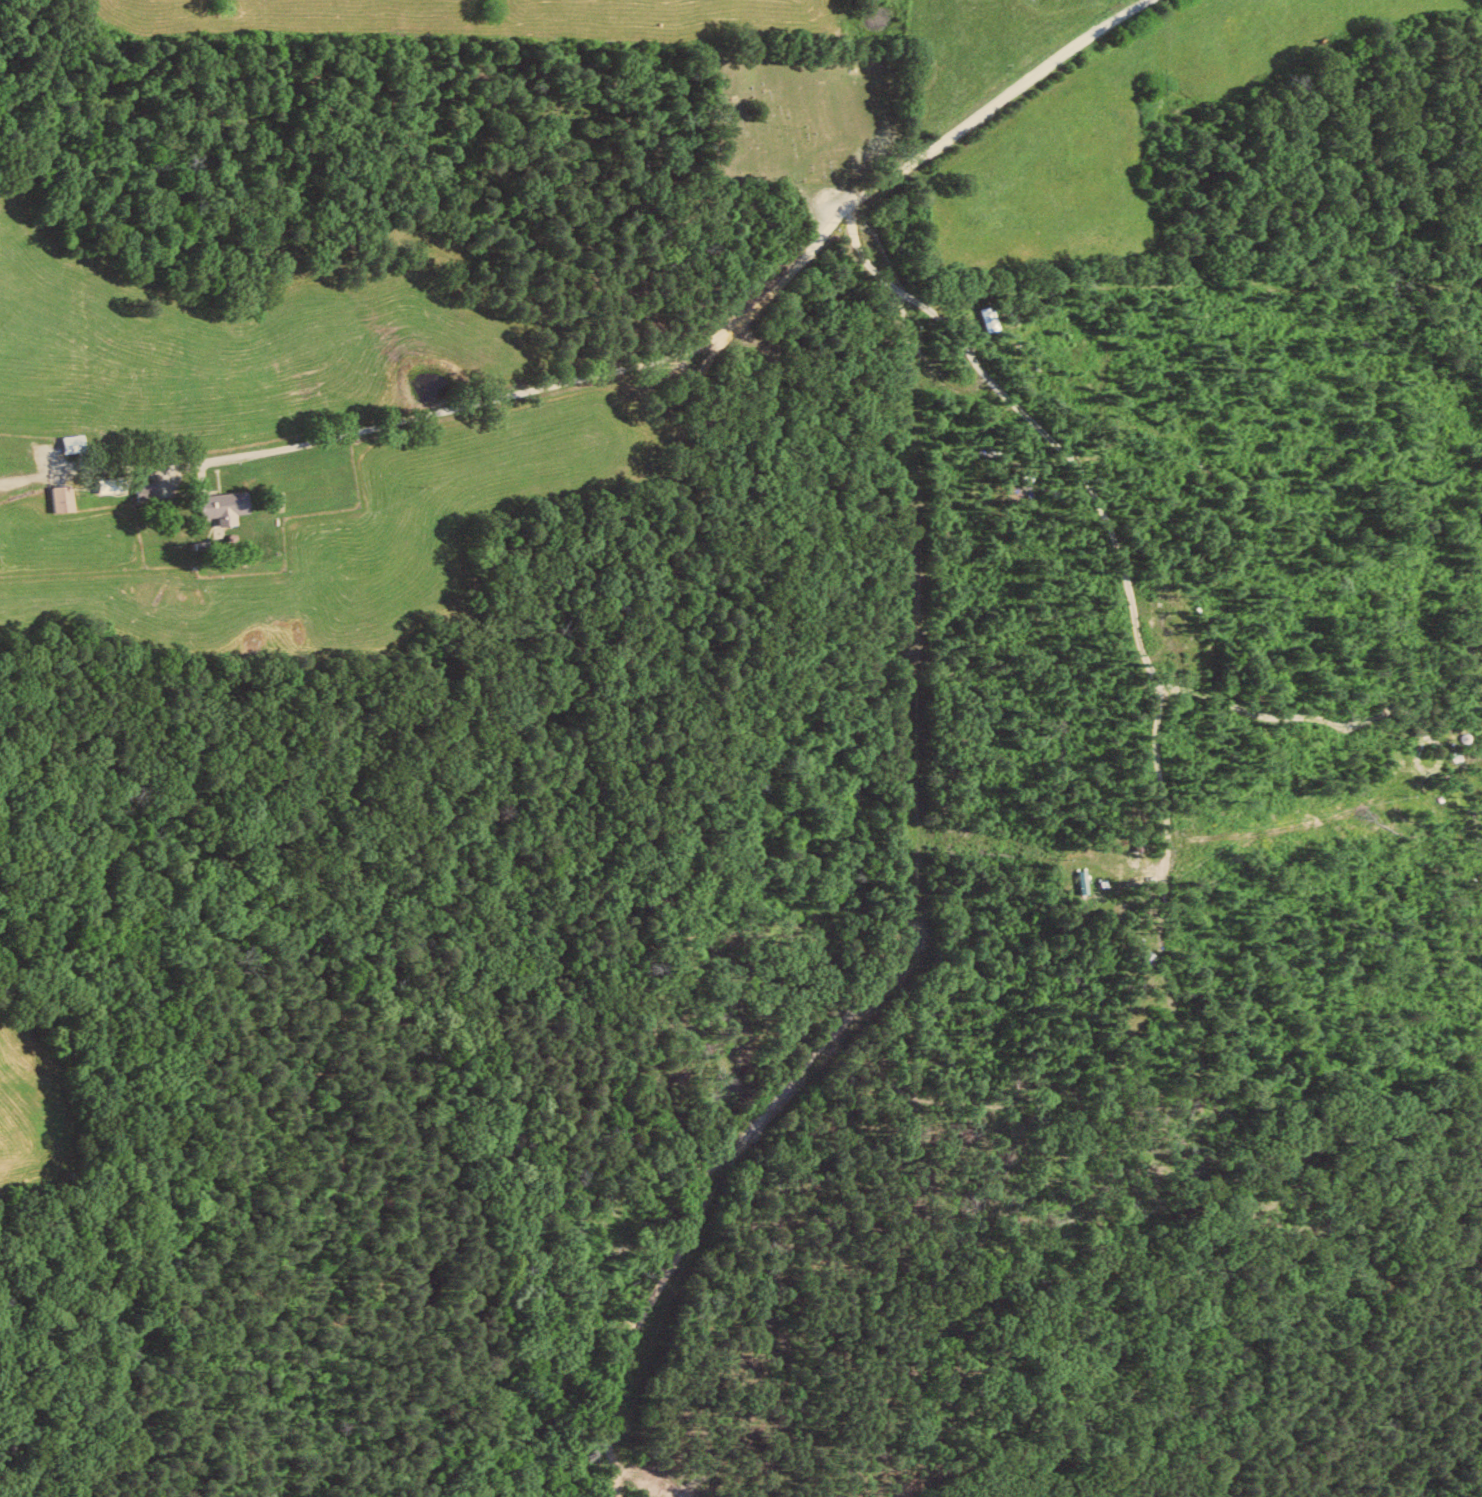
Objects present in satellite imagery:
road: (629, 358)
building: (78, 442)
building: (113, 484)
building: (149, 491)
building: (66, 497)
building: (224, 507)
road: (743, 915)

